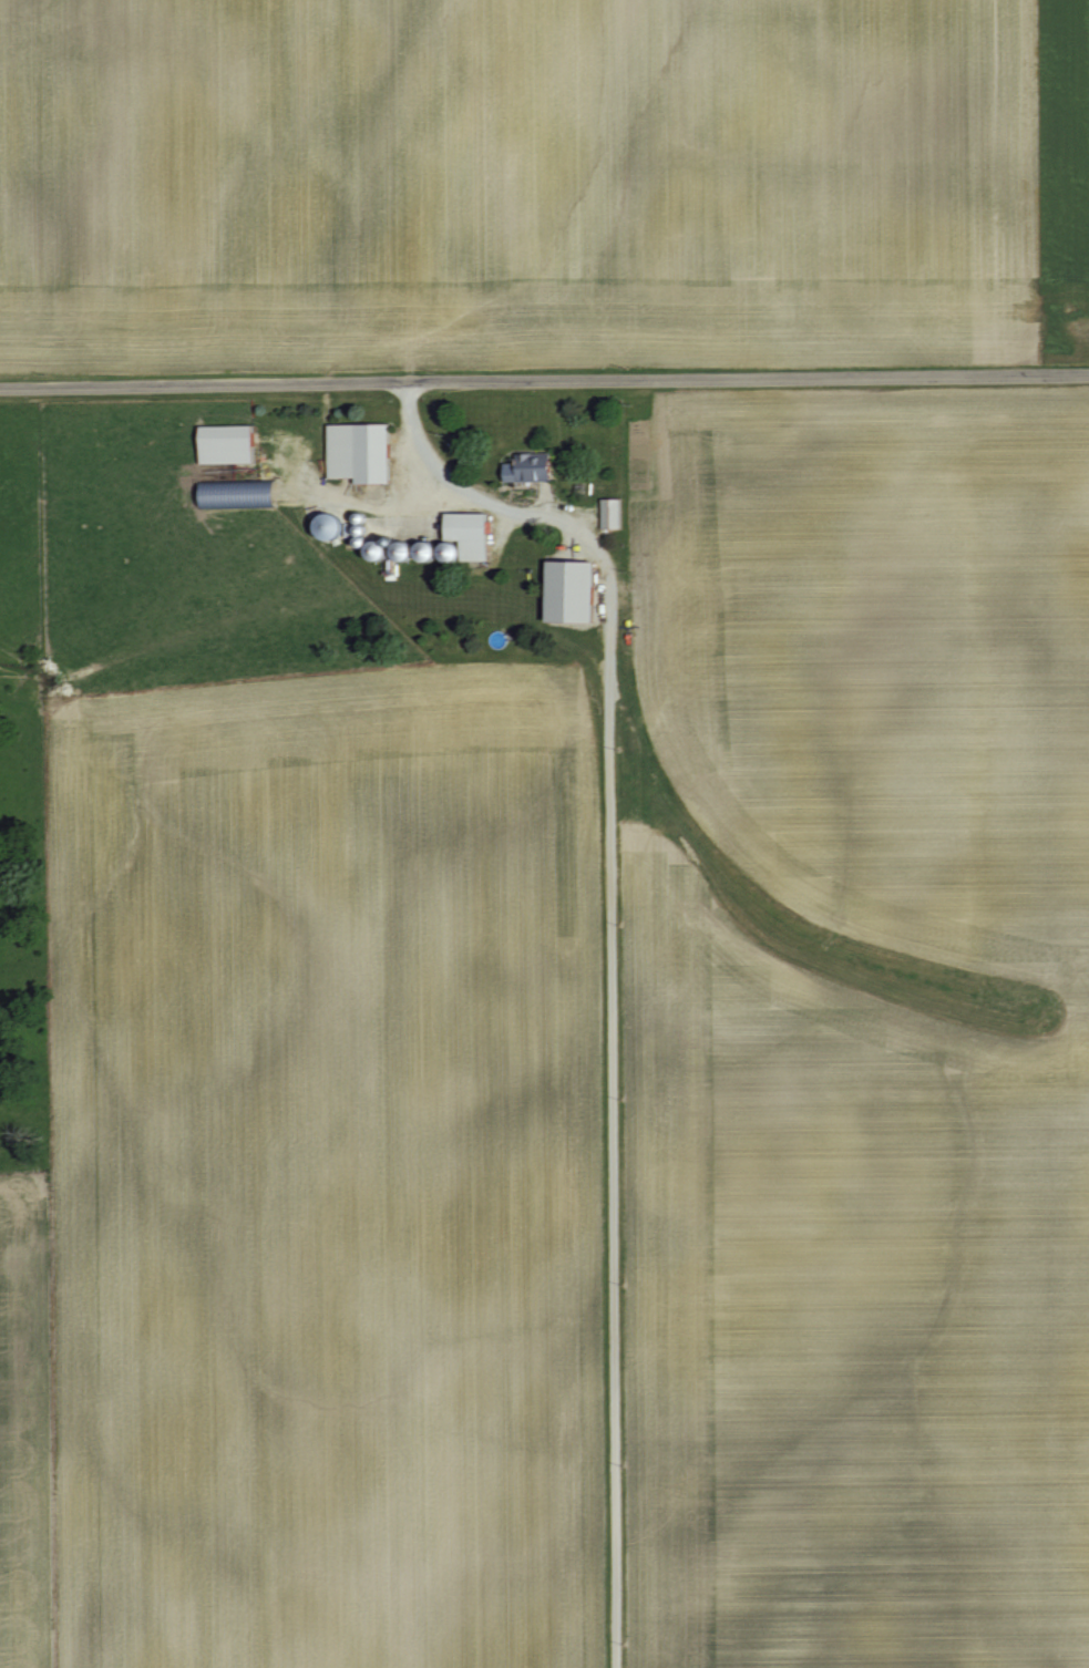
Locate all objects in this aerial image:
road: (544, 378)
building: (217, 442)
building: (351, 450)
building: (525, 465)
road: (441, 476)
road: (540, 486)
building: (227, 492)
road: (538, 504)
building: (602, 511)
silo: (349, 516)
silo: (319, 524)
silo: (349, 528)
building: (461, 532)
silo: (350, 539)
silo: (366, 548)
silo: (395, 549)
silo: (422, 550)
silo: (443, 550)
building: (381, 566)
building: (563, 567)
building: (561, 589)
building: (562, 610)
road: (603, 1074)

